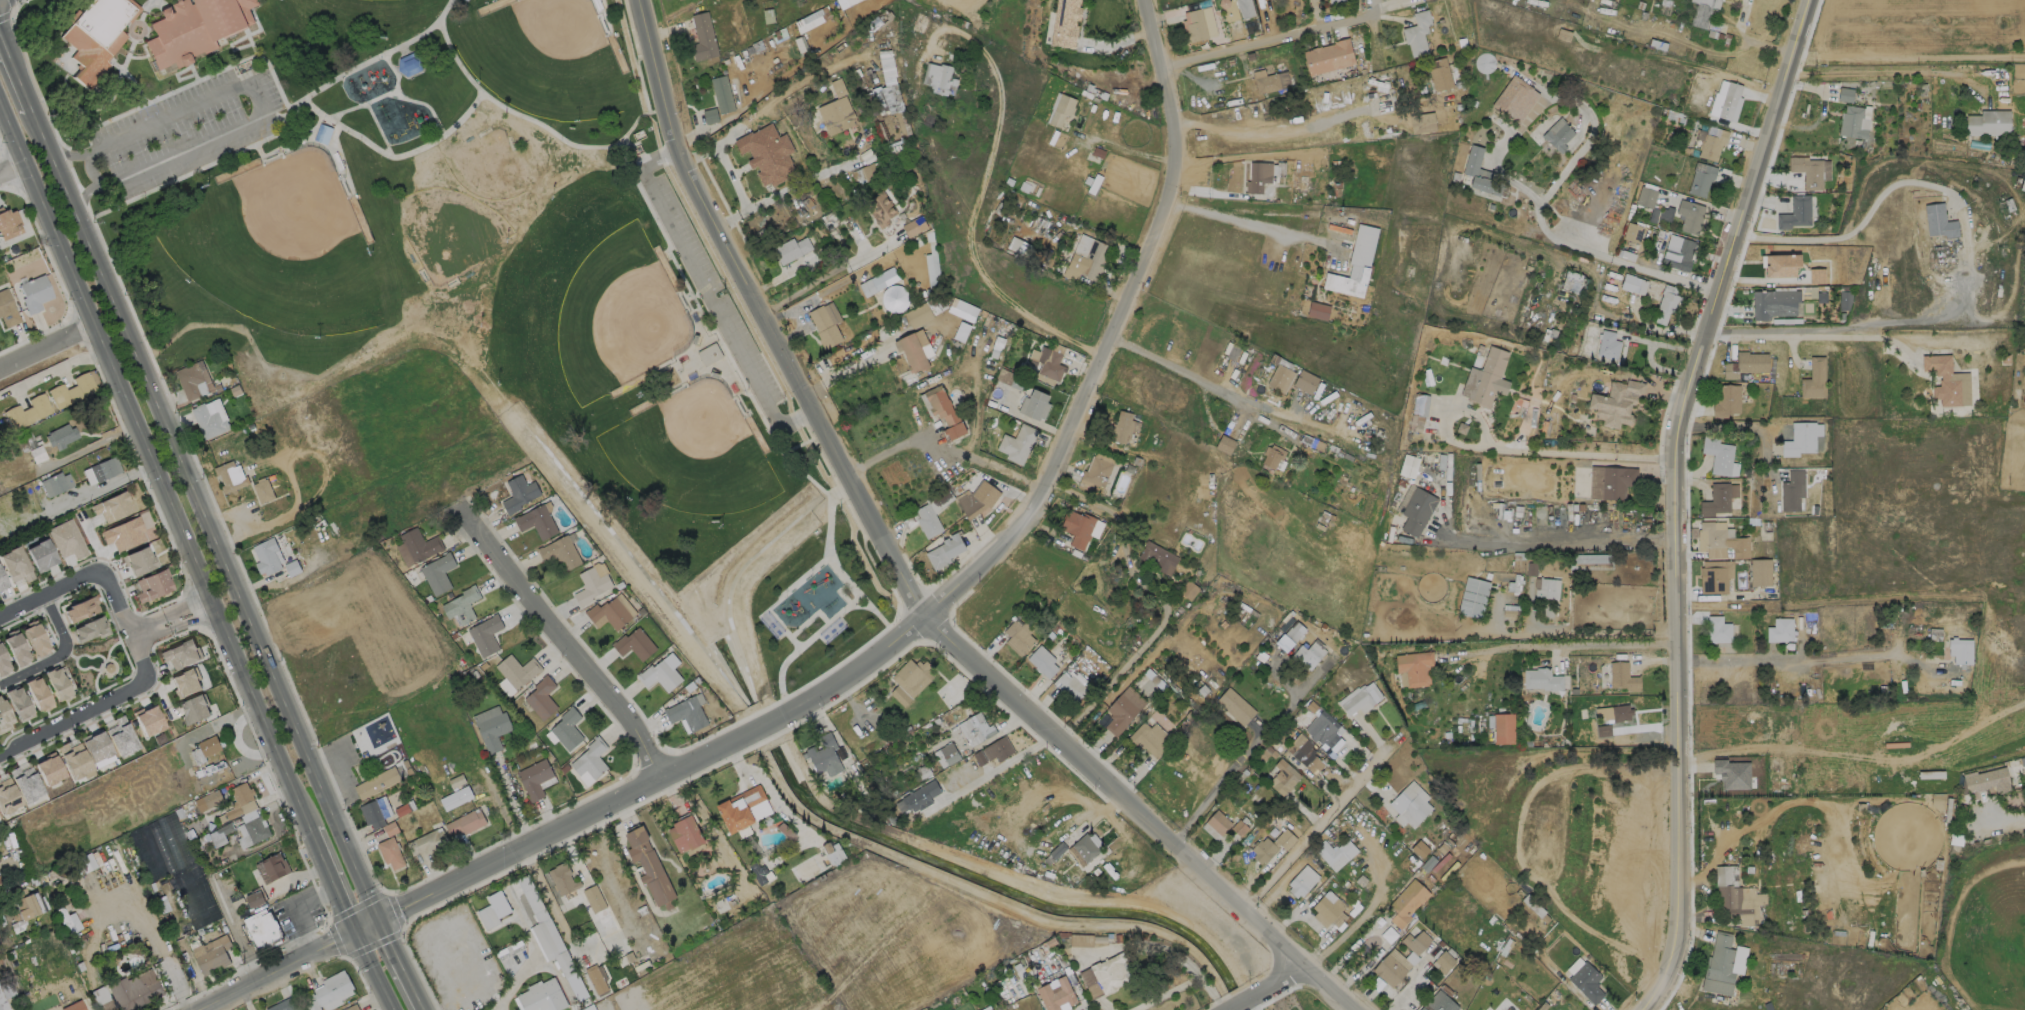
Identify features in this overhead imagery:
road: (962, 0)
building: (1327, 0)
building: (1334, 0)
park: (376, 1)
building: (763, 7)
building: (1245, 8)
building: (1704, 14)
building: (1065, 23)
building: (1196, 25)
building: (195, 30)
building: (1417, 32)
building: (703, 36)
building: (96, 38)
road: (1271, 38)
building: (745, 42)
building: (1328, 56)
building: (882, 59)
park: (545, 60)
building: (1484, 62)
building: (413, 65)
road: (17, 66)
road: (1883, 72)
building: (1439, 73)
building: (939, 77)
building: (1269, 80)
road: (184, 88)
building: (721, 93)
building: (1845, 94)
building: (1511, 96)
road: (382, 97)
building: (1332, 98)
building: (1730, 101)
road: (260, 104)
road: (423, 106)
building: (1061, 108)
building: (836, 115)
building: (710, 116)
road: (275, 117)
building: (1422, 122)
building: (1853, 122)
building: (1988, 122)
road: (536, 123)
road: (1592, 128)
parking lot: (188, 129)
road: (378, 130)
road: (285, 132)
road: (1258, 133)
building: (324, 134)
building: (1557, 134)
building: (1710, 141)
building: (766, 153)
road: (394, 156)
road: (12, 170)
park: (486, 170)
road: (89, 171)
building: (1807, 171)
building: (1481, 173)
building: (1085, 175)
building: (1258, 176)
building: (1701, 180)
building: (1646, 197)
building: (880, 208)
building: (898, 208)
building: (1795, 212)
building: (1665, 213)
building: (1689, 215)
building: (1939, 219)
road: (1236, 220)
road: (1861, 222)
building: (1038, 223)
building: (9, 224)
building: (914, 226)
park: (450, 229)
building: (1633, 232)
road: (966, 244)
park: (271, 249)
building: (790, 249)
building: (1677, 252)
building: (1777, 255)
building: (1086, 258)
building: (1355, 263)
building: (1809, 268)
road: (828, 274)
park: (470, 275)
building: (1817, 275)
road: (1672, 277)
building: (878, 281)
building: (1572, 282)
building: (1633, 284)
building: (34, 293)
parking lot: (715, 293)
road: (709, 297)
building: (895, 299)
building: (1844, 300)
building: (1666, 303)
building: (1773, 303)
building: (8, 310)
building: (1318, 310)
building: (918, 315)
park: (620, 318)
road: (762, 319)
building: (826, 323)
road: (1663, 330)
road: (1793, 333)
building: (1608, 344)
road: (47, 349)
building: (914, 349)
building: (1745, 363)
building: (1047, 365)
road: (50, 370)
building: (1281, 377)
building: (1489, 378)
building: (1814, 379)
building: (194, 380)
road: (1193, 380)
building: (1305, 380)
building: (1946, 380)
building: (71, 390)
road: (749, 394)
building: (2024, 397)
building: (1725, 400)
building: (1616, 402)
building: (1034, 404)
building: (1420, 404)
building: (944, 410)
building: (26, 411)
building: (208, 421)
building: (1123, 427)
road: (1744, 428)
building: (60, 436)
building: (1801, 438)
building: (1016, 443)
building: (1225, 444)
road: (941, 445)
road: (1517, 448)
building: (1717, 454)
building: (1273, 456)
park: (692, 457)
building: (1409, 466)
building: (103, 468)
road: (152, 468)
building: (1096, 471)
building: (230, 476)
building: (1615, 481)
building: (54, 483)
building: (262, 489)
building: (1791, 490)
building: (518, 493)
road: (842, 495)
building: (977, 498)
building: (1715, 499)
road: (1672, 501)
building: (112, 506)
building: (1417, 510)
building: (932, 512)
road: (204, 514)
building: (536, 521)
building: (1076, 527)
building: (122, 534)
road: (1559, 536)
building: (65, 539)
building: (1720, 540)
building: (419, 545)
building: (944, 551)
building: (560, 552)
building: (40, 554)
building: (266, 556)
building: (1158, 557)
building: (138, 561)
building: (1593, 561)
building: (15, 564)
building: (1760, 572)
building: (438, 573)
building: (1715, 576)
building: (2, 581)
building: (151, 585)
building: (591, 586)
building: (1546, 588)
building: (1189, 590)
road: (48, 591)
road: (950, 597)
building: (1473, 597)
building: (462, 605)
building: (80, 608)
building: (612, 612)
road: (167, 619)
road: (121, 624)
building: (90, 629)
building: (1718, 630)
building: (1780, 630)
building: (1295, 631)
building: (485, 635)
building: (1018, 637)
building: (35, 638)
building: (635, 644)
road: (1597, 644)
road: (804, 645)
building: (15, 648)
road: (60, 650)
road: (569, 651)
building: (1960, 651)
building: (1307, 654)
building: (180, 655)
road: (1797, 658)
building: (1042, 661)
building: (3, 663)
building: (1414, 667)
building: (517, 671)
building: (1618, 674)
building: (660, 675)
building: (1541, 679)
building: (909, 680)
building: (184, 683)
building: (56, 684)
road: (1109, 685)
building: (1069, 686)
building: (37, 694)
building: (1359, 697)
building: (541, 698)
building: (18, 704)
building: (1234, 706)
building: (193, 709)
building: (1123, 709)
building: (688, 712)
building: (1617, 713)
road: (73, 717)
building: (4, 718)
building: (148, 721)
building: (491, 727)
building: (975, 728)
building: (1502, 728)
building: (567, 729)
building: (1603, 729)
building: (1324, 730)
building: (119, 736)
building: (1148, 739)
building: (209, 744)
building: (95, 746)
building: (997, 749)
building: (949, 753)
building: (1305, 753)
building: (824, 756)
building: (73, 759)
building: (590, 759)
building: (48, 770)
building: (1729, 773)
road: (995, 775)
building: (1283, 777)
building: (534, 778)
building: (1988, 781)
building: (25, 782)
building: (376, 782)
road: (1212, 790)
building: (7, 794)
building: (920, 796)
building: (456, 797)
building: (209, 799)
building: (239, 799)
road: (496, 800)
road: (514, 800)
building: (1410, 803)
building: (743, 809)
building: (375, 811)
road: (1133, 818)
building: (465, 822)
building: (1218, 822)
road: (2004, 823)
building: (170, 825)
road: (1315, 826)
building: (389, 827)
building: (255, 829)
building: (1239, 829)
building: (685, 831)
building: (426, 841)
building: (1271, 845)
building: (1085, 847)
building: (390, 853)
building: (1330, 855)
building: (649, 867)
building: (271, 868)
building: (562, 879)
road: (331, 881)
building: (1300, 884)
building: (195, 895)
building: (1737, 897)
building: (254, 899)
road: (548, 903)
building: (1406, 903)
building: (22, 904)
building: (493, 910)
building: (597, 911)
building: (1328, 911)
road: (366, 926)
building: (262, 930)
road: (153, 950)
road: (533, 952)
building: (211, 954)
building: (558, 955)
building: (1444, 962)
road: (401, 965)
building: (1574, 966)
building: (1719, 966)
building: (1388, 970)
road: (278, 971)
road: (373, 971)
building: (1111, 973)
road: (557, 976)
building: (1586, 982)
building: (134, 990)
building: (327, 990)
building: (4, 992)
road: (1268, 992)
building: (1056, 994)
building: (542, 997)
building: (101, 999)
building: (1439, 1002)
building: (283, 1005)
building: (73, 1006)
building: (351, 1007)
building: (897, 1009)
building: (990, 1009)
building: (993, 1009)

